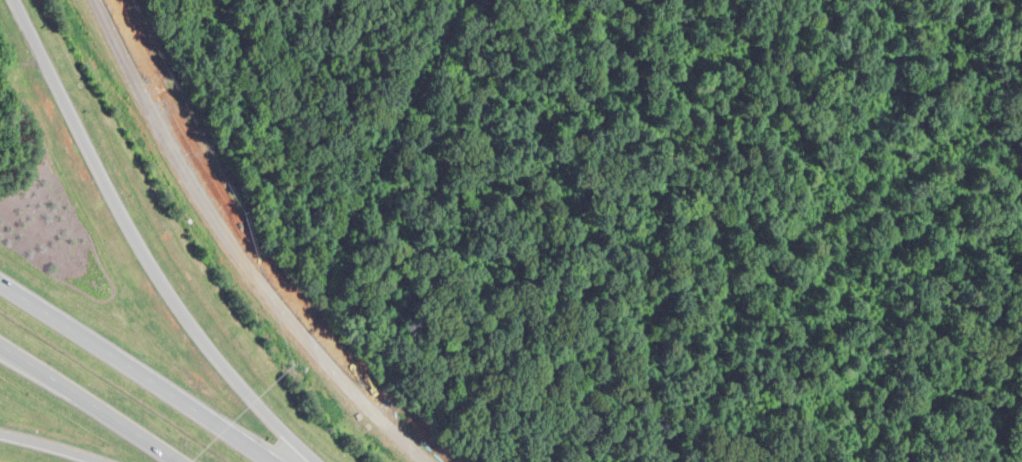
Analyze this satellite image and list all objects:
road: (141, 245)
road: (229, 248)
road: (132, 380)
road: (81, 408)
road: (47, 446)

